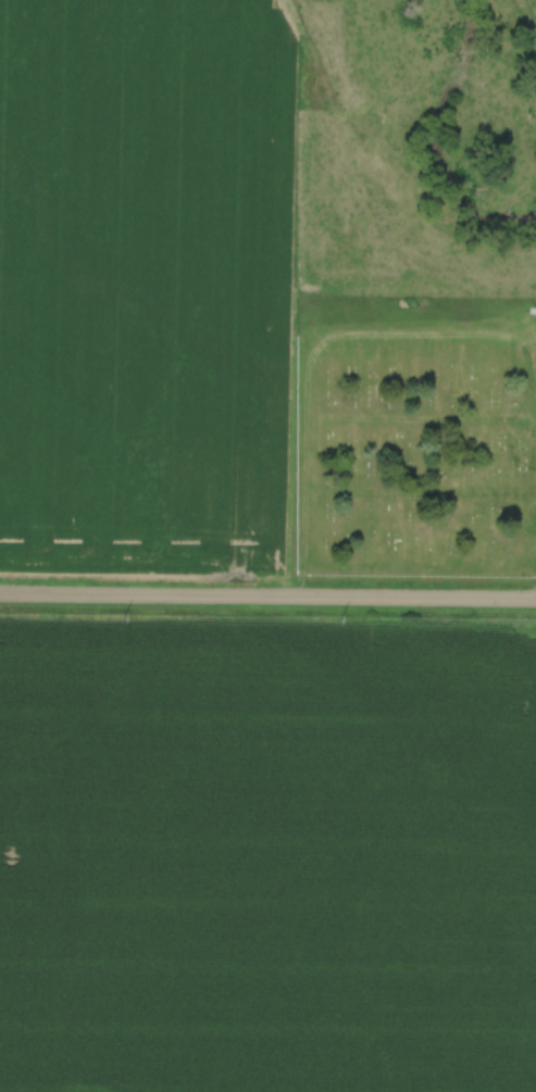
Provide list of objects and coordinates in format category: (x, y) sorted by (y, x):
road: (267, 598)

